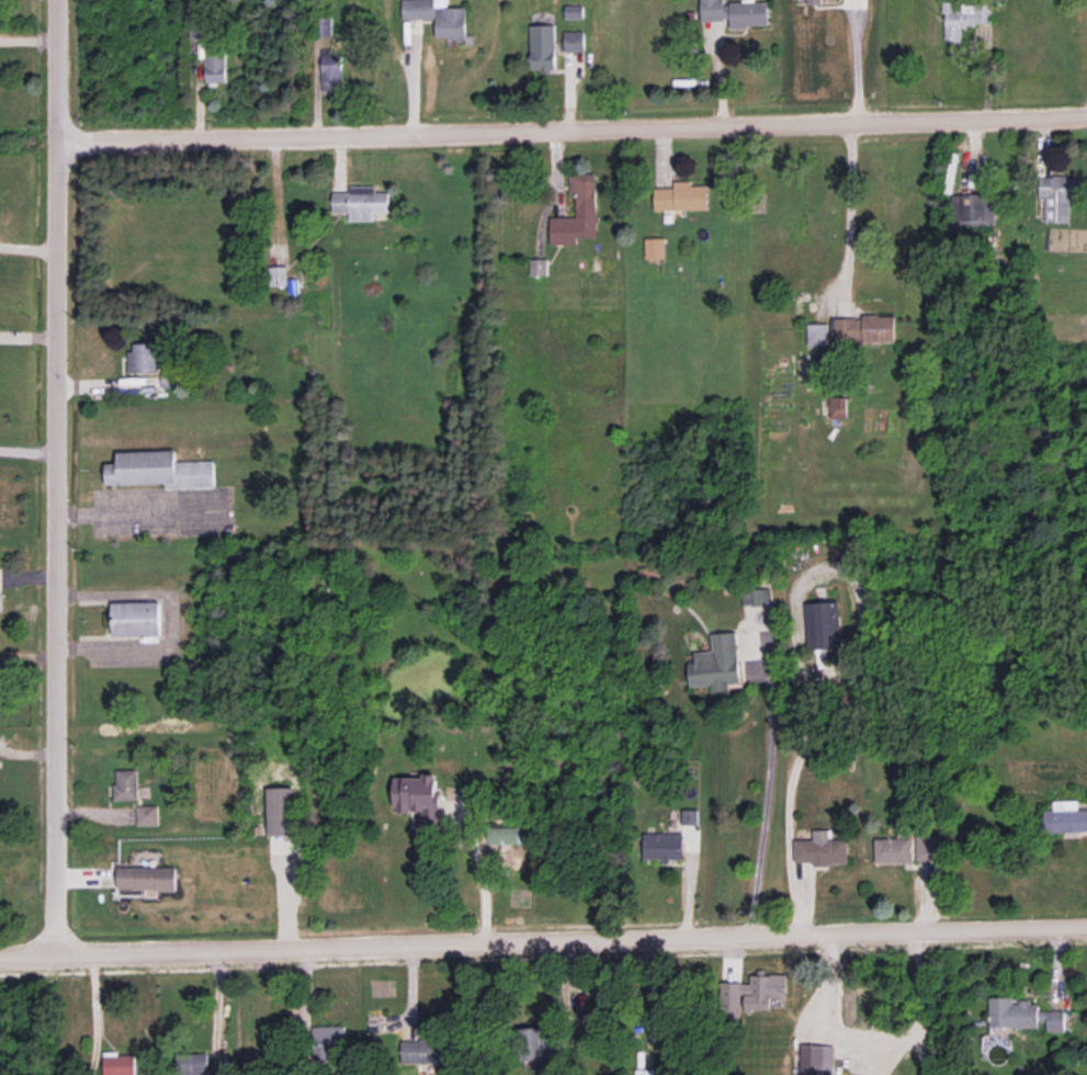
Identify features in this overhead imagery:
building: (571, 11)
building: (735, 12)
building: (438, 15)
building: (963, 19)
building: (573, 41)
building: (542, 47)
road: (852, 61)
building: (214, 67)
building: (331, 70)
road: (573, 126)
building: (1057, 195)
building: (681, 196)
building: (360, 202)
road: (849, 202)
building: (975, 210)
building: (577, 212)
building: (654, 247)
road: (29, 248)
building: (539, 265)
building: (865, 328)
building: (817, 333)
building: (144, 358)
building: (170, 378)
building: (838, 407)
road: (29, 451)
building: (159, 469)
road: (56, 476)
building: (756, 596)
building: (0, 601)
building: (136, 618)
building: (823, 624)
building: (716, 664)
building: (126, 783)
road: (769, 784)
building: (418, 796)
building: (281, 811)
building: (147, 814)
building: (689, 816)
building: (1065, 817)
building: (505, 835)
building: (664, 847)
building: (926, 847)
building: (822, 849)
building: (893, 849)
road: (479, 872)
building: (146, 878)
road: (543, 938)
building: (756, 992)
road: (216, 1007)
road: (95, 1012)
building: (1012, 1012)
building: (1053, 1019)
building: (328, 1041)
building: (541, 1043)
building: (424, 1051)
building: (816, 1060)
building: (193, 1062)
building: (118, 1063)
building: (645, 1072)

